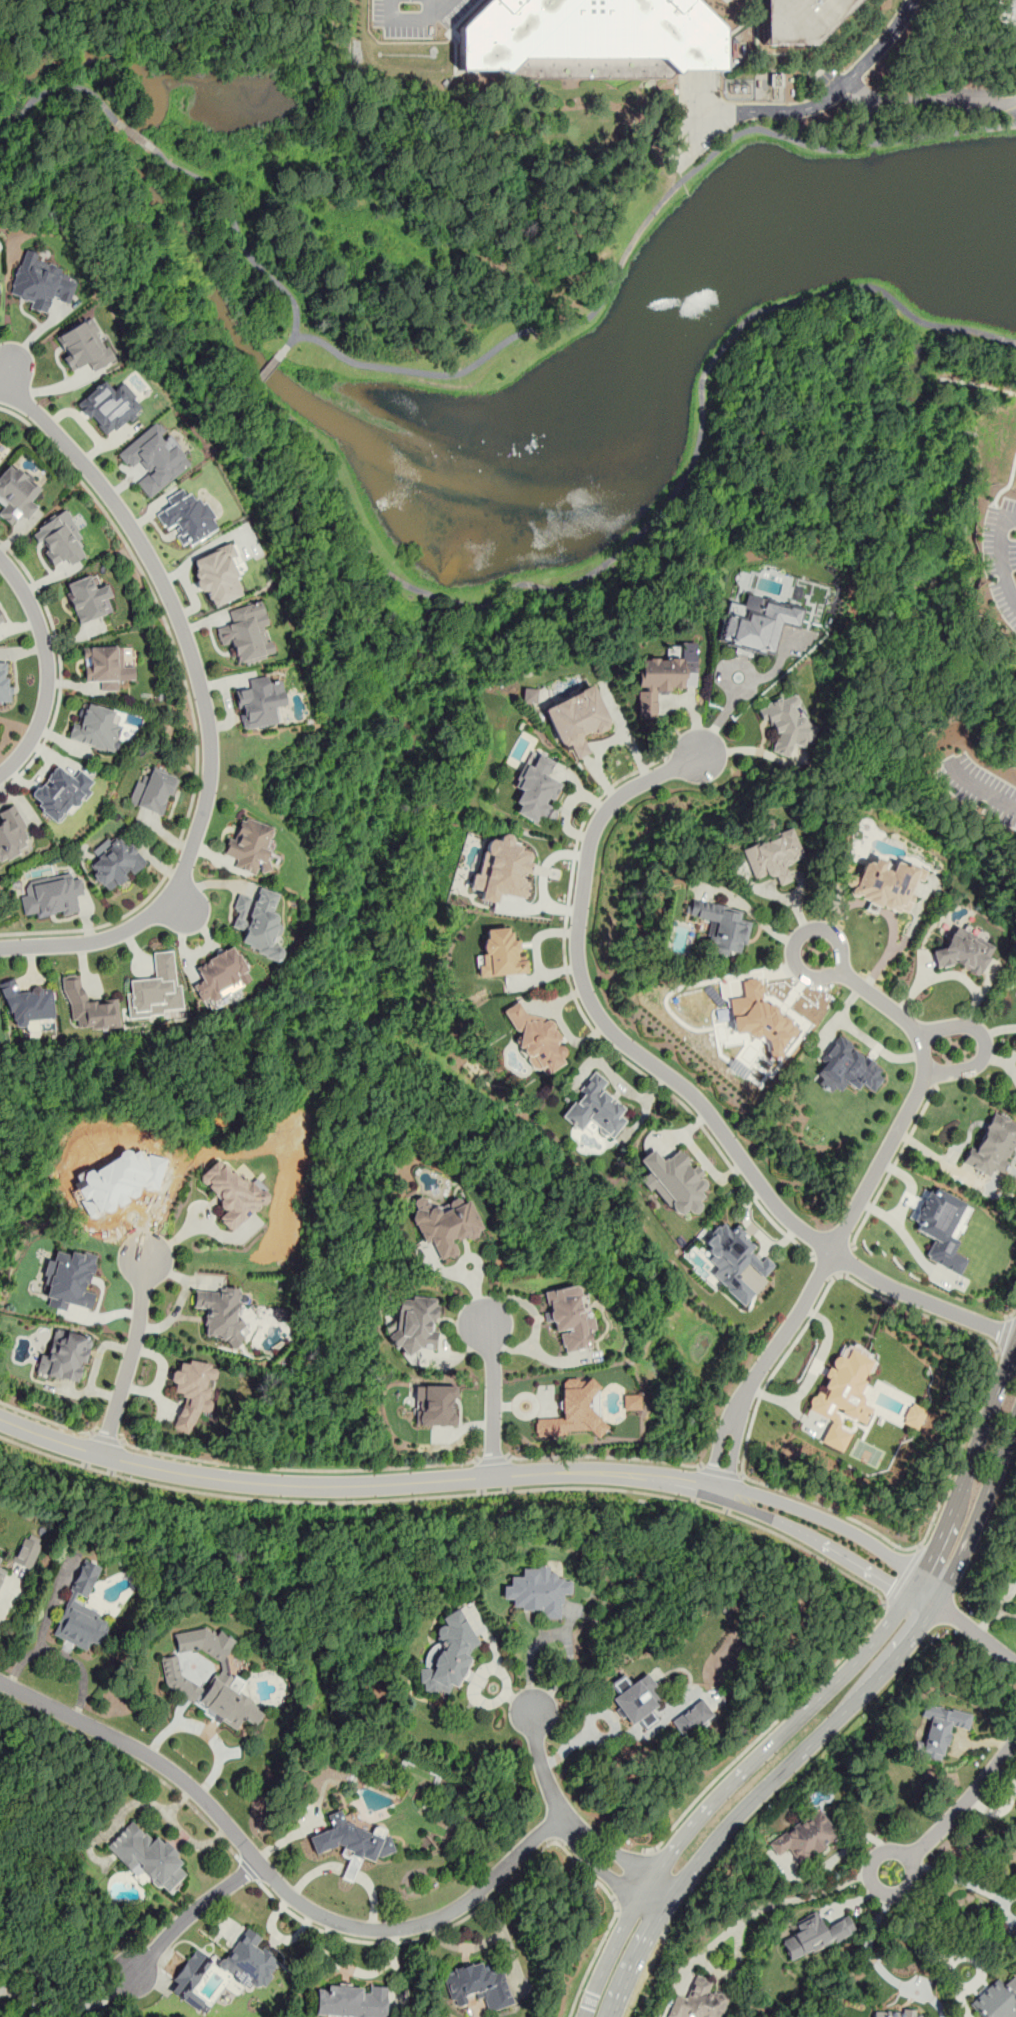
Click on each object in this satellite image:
road: (427, 7)
building: (1011, 7)
road: (415, 15)
building: (805, 19)
building: (593, 39)
park: (951, 69)
road: (53, 89)
road: (822, 101)
road: (929, 103)
road: (134, 136)
road: (238, 231)
road: (637, 234)
park: (494, 279)
building: (40, 282)
building: (84, 345)
road: (271, 365)
building: (108, 407)
building: (155, 458)
building: (17, 493)
building: (187, 515)
road: (1009, 518)
road: (645, 526)
building: (60, 539)
road: (1000, 560)
building: (217, 573)
building: (88, 597)
building: (1, 617)
building: (757, 622)
building: (246, 631)
road: (60, 666)
building: (106, 666)
road: (48, 667)
building: (664, 676)
building: (4, 682)
building: (529, 695)
building: (259, 701)
road: (190, 703)
road: (204, 704)
road: (721, 718)
building: (576, 720)
building: (787, 723)
building: (95, 727)
road: (978, 787)
building: (535, 789)
building: (153, 791)
building: (60, 792)
building: (12, 833)
building: (249, 844)
building: (772, 856)
building: (116, 863)
building: (501, 869)
building: (883, 885)
building: (53, 895)
building: (258, 922)
building: (721, 925)
building: (964, 950)
building: (500, 953)
building: (1015, 968)
building: (221, 975)
building: (156, 988)
building: (28, 1005)
building: (89, 1008)
building: (759, 1016)
road: (590, 1027)
building: (536, 1038)
road: (986, 1044)
building: (848, 1067)
road: (680, 1086)
building: (595, 1107)
building: (993, 1145)
road: (892, 1166)
building: (672, 1183)
building: (231, 1191)
road: (860, 1199)
road: (195, 1209)
building: (444, 1224)
building: (940, 1228)
road: (171, 1241)
building: (733, 1260)
road: (846, 1261)
road: (823, 1269)
building: (69, 1279)
road: (184, 1297)
building: (219, 1313)
road: (1011, 1314)
building: (280, 1315)
building: (569, 1318)
building: (414, 1323)
road: (1003, 1333)
road: (997, 1352)
building: (64, 1356)
road: (130, 1360)
building: (191, 1391)
building: (842, 1394)
road: (493, 1401)
building: (631, 1401)
building: (434, 1404)
building: (573, 1411)
building: (914, 1416)
road: (45, 1419)
road: (107, 1438)
road: (603, 1456)
road: (493, 1459)
road: (299, 1469)
road: (719, 1471)
road: (465, 1478)
road: (625, 1490)
building: (26, 1552)
building: (0, 1557)
building: (1, 1573)
road: (903, 1576)
building: (539, 1591)
road: (9, 1593)
building: (81, 1611)
road: (965, 1625)
road: (558, 1634)
building: (447, 1654)
building: (225, 1677)
road: (820, 1695)
building: (636, 1699)
building: (692, 1718)
road: (826, 1727)
building: (940, 1729)
road: (131, 1761)
road: (539, 1767)
road: (957, 1810)
road: (998, 1810)
building: (805, 1837)
building: (350, 1839)
building: (147, 1856)
road: (248, 1870)
road: (273, 1877)
road: (630, 1878)
road: (962, 1880)
road: (502, 1886)
road: (645, 1887)
road: (659, 1893)
road: (779, 1902)
road: (188, 1914)
road: (921, 1929)
building: (815, 1935)
road: (868, 1942)
building: (250, 1961)
building: (190, 1979)
building: (478, 1985)
road: (54, 1994)
road: (105, 1997)
building: (996, 1999)
building: (351, 2001)
building: (699, 2001)
building: (890, 2012)

